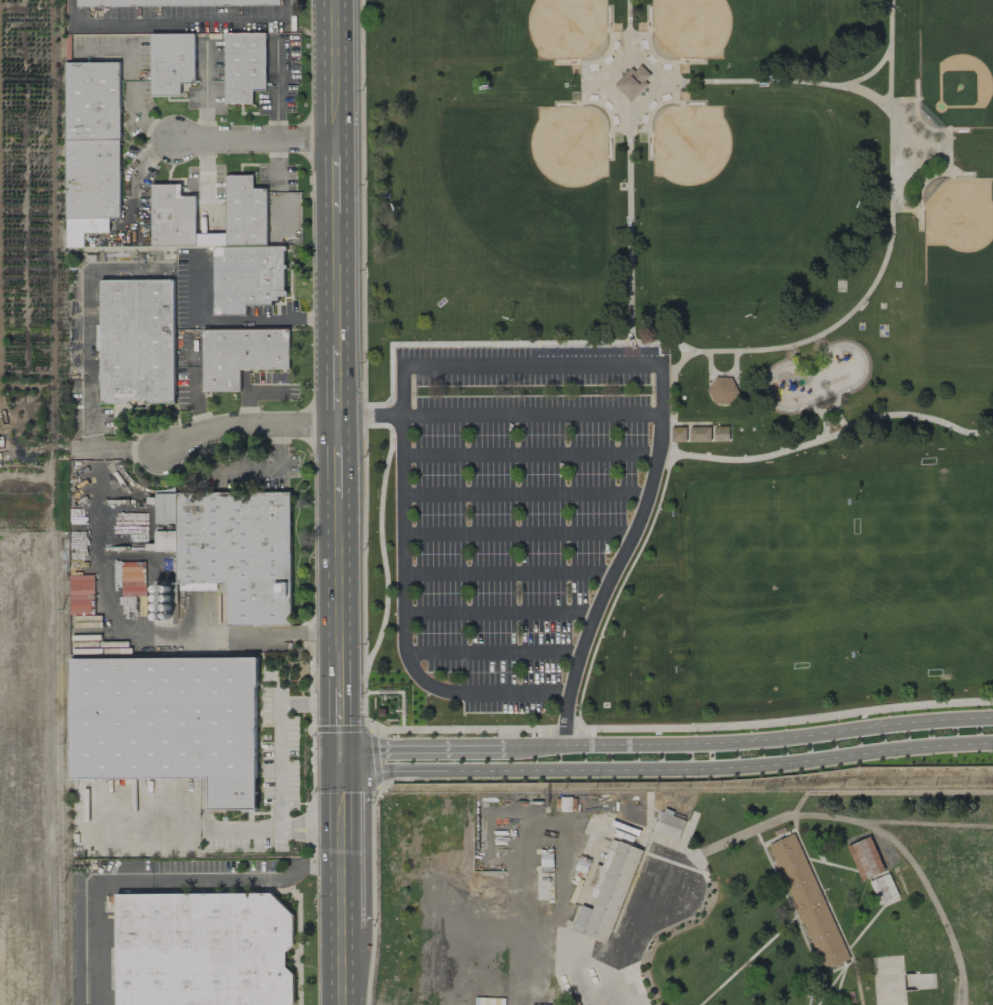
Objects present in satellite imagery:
building: (173, 3)
road: (174, 20)
park: (475, 22)
road: (629, 25)
park: (507, 29)
park: (732, 29)
building: (171, 63)
park: (956, 65)
road: (336, 68)
building: (248, 69)
road: (871, 72)
road: (779, 80)
building: (632, 82)
road: (205, 91)
road: (633, 109)
road: (165, 136)
road: (254, 138)
road: (336, 175)
building: (98, 184)
park: (750, 196)
park: (516, 207)
park: (503, 214)
building: (250, 215)
building: (178, 220)
road: (630, 228)
park: (959, 262)
road: (336, 318)
building: (136, 341)
road: (822, 342)
road: (745, 351)
road: (791, 353)
building: (241, 355)
park: (677, 358)
road: (533, 367)
road: (723, 374)
building: (722, 391)
road: (673, 398)
road: (722, 402)
road: (806, 403)
road: (829, 410)
road: (840, 410)
road: (532, 417)
road: (822, 417)
road: (369, 418)
road: (246, 426)
road: (833, 433)
building: (678, 434)
building: (709, 434)
road: (530, 457)
road: (337, 461)
road: (526, 497)
road: (314, 502)
road: (358, 502)
parking lot: (518, 513)
road: (404, 527)
road: (519, 537)
building: (227, 553)
road: (622, 557)
road: (508, 576)
park: (931, 578)
building: (133, 579)
road: (622, 585)
park: (772, 588)
road: (338, 593)
road: (500, 616)
road: (494, 656)
road: (494, 694)
road: (784, 722)
building: (167, 723)
road: (339, 725)
road: (281, 735)
road: (666, 744)
road: (666, 768)
road: (312, 822)
building: (670, 825)
road: (284, 827)
road: (252, 833)
road: (311, 834)
road: (340, 845)
building: (865, 859)
road: (248, 878)
building: (884, 889)
building: (608, 893)
building: (808, 902)
road: (101, 915)
road: (633, 934)
building: (203, 949)
road: (341, 966)

